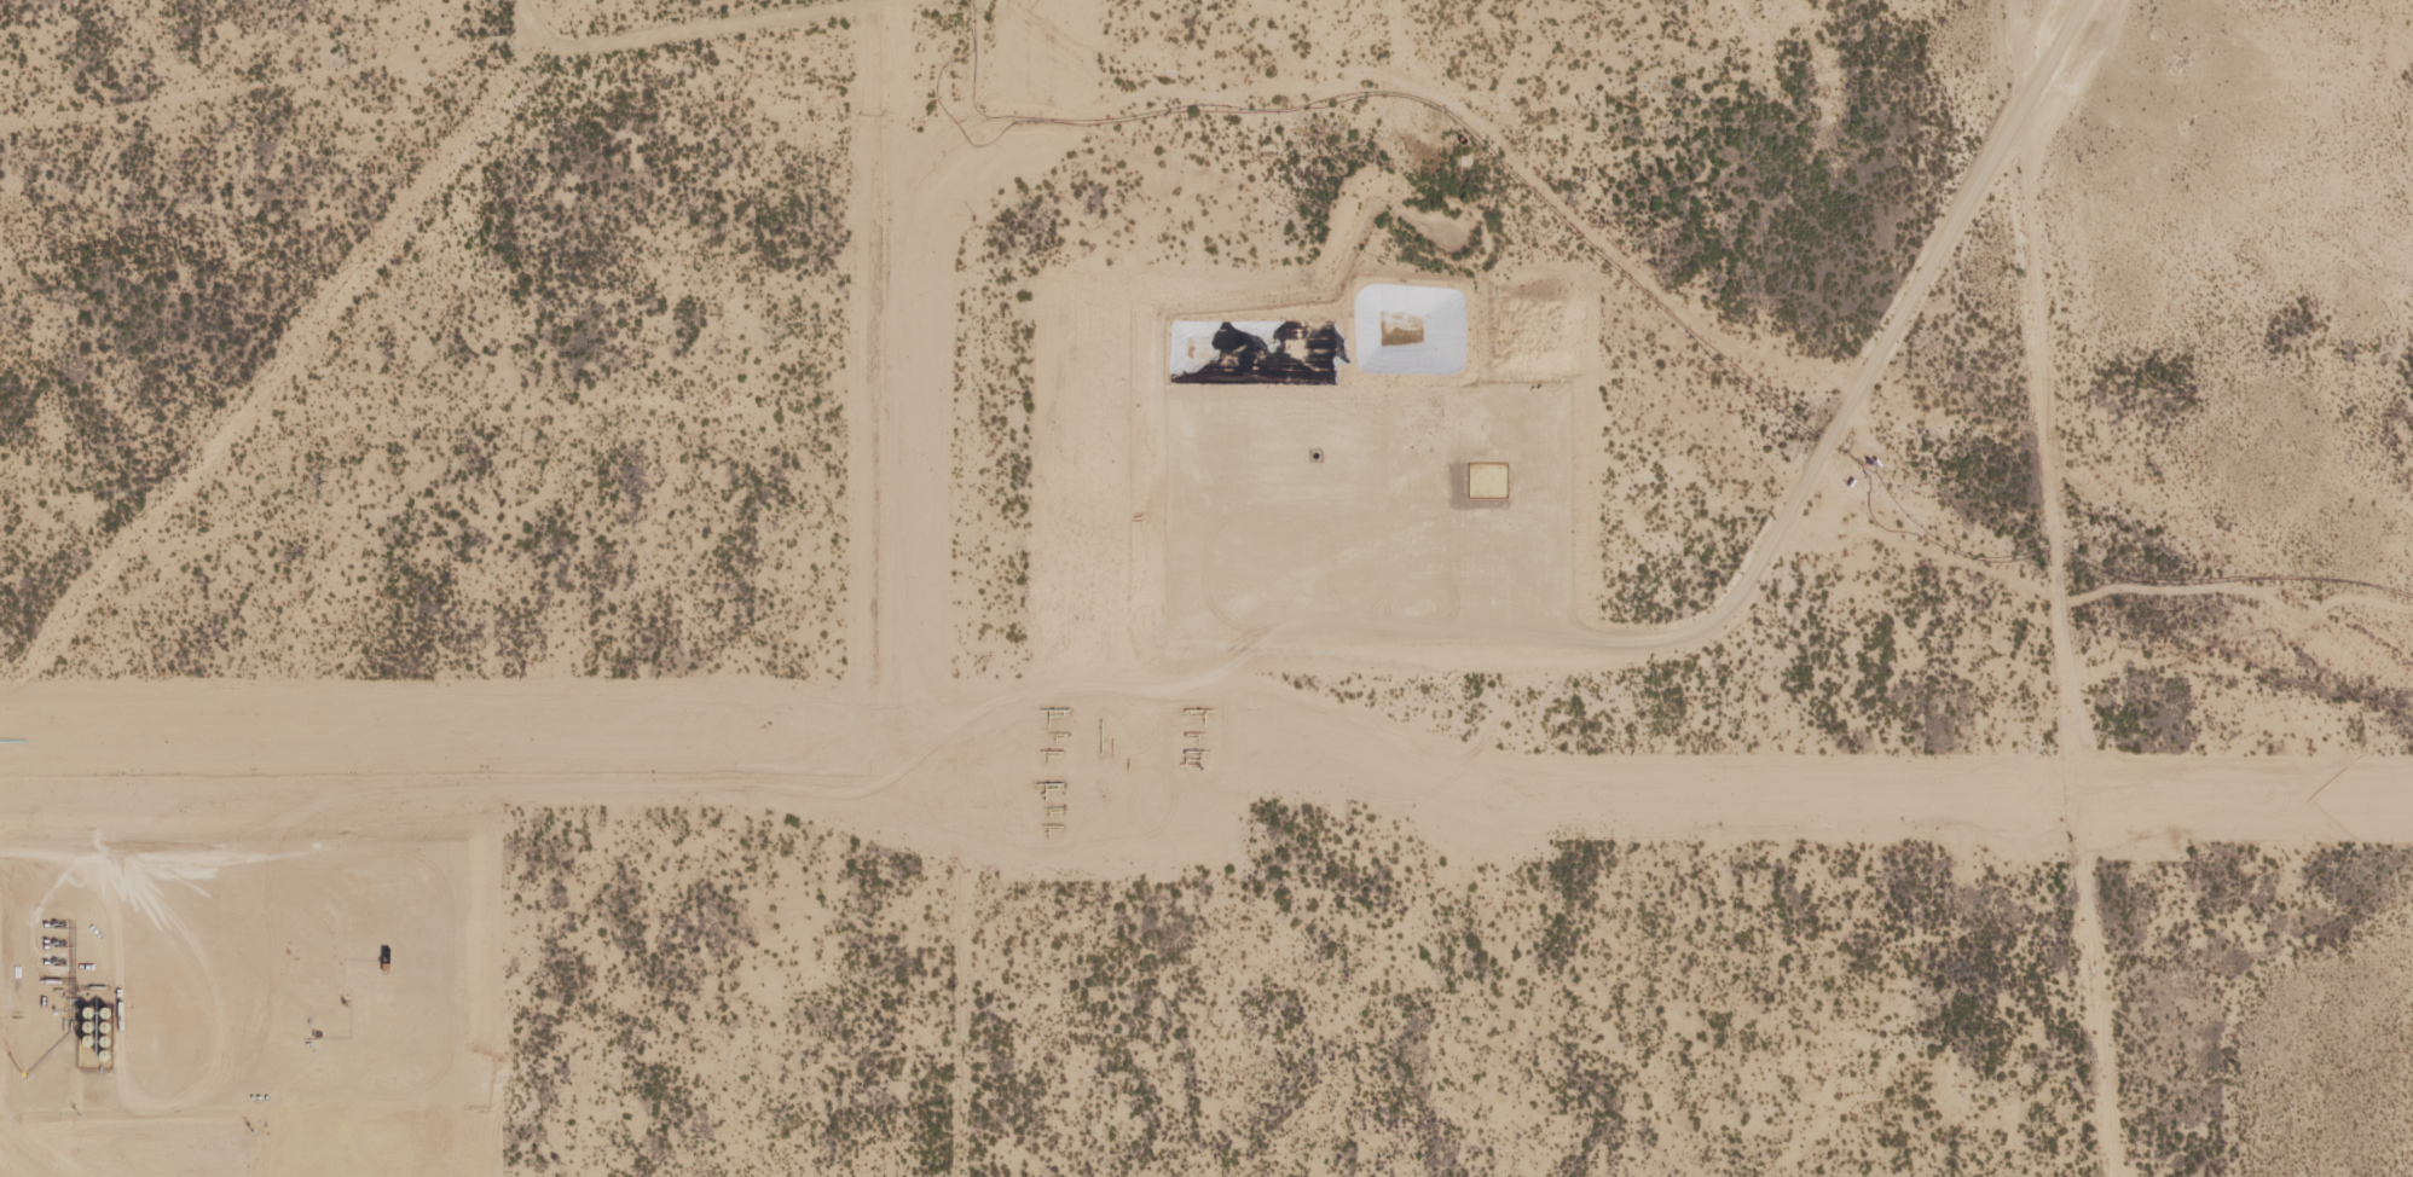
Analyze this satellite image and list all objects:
road: (2038, 588)

